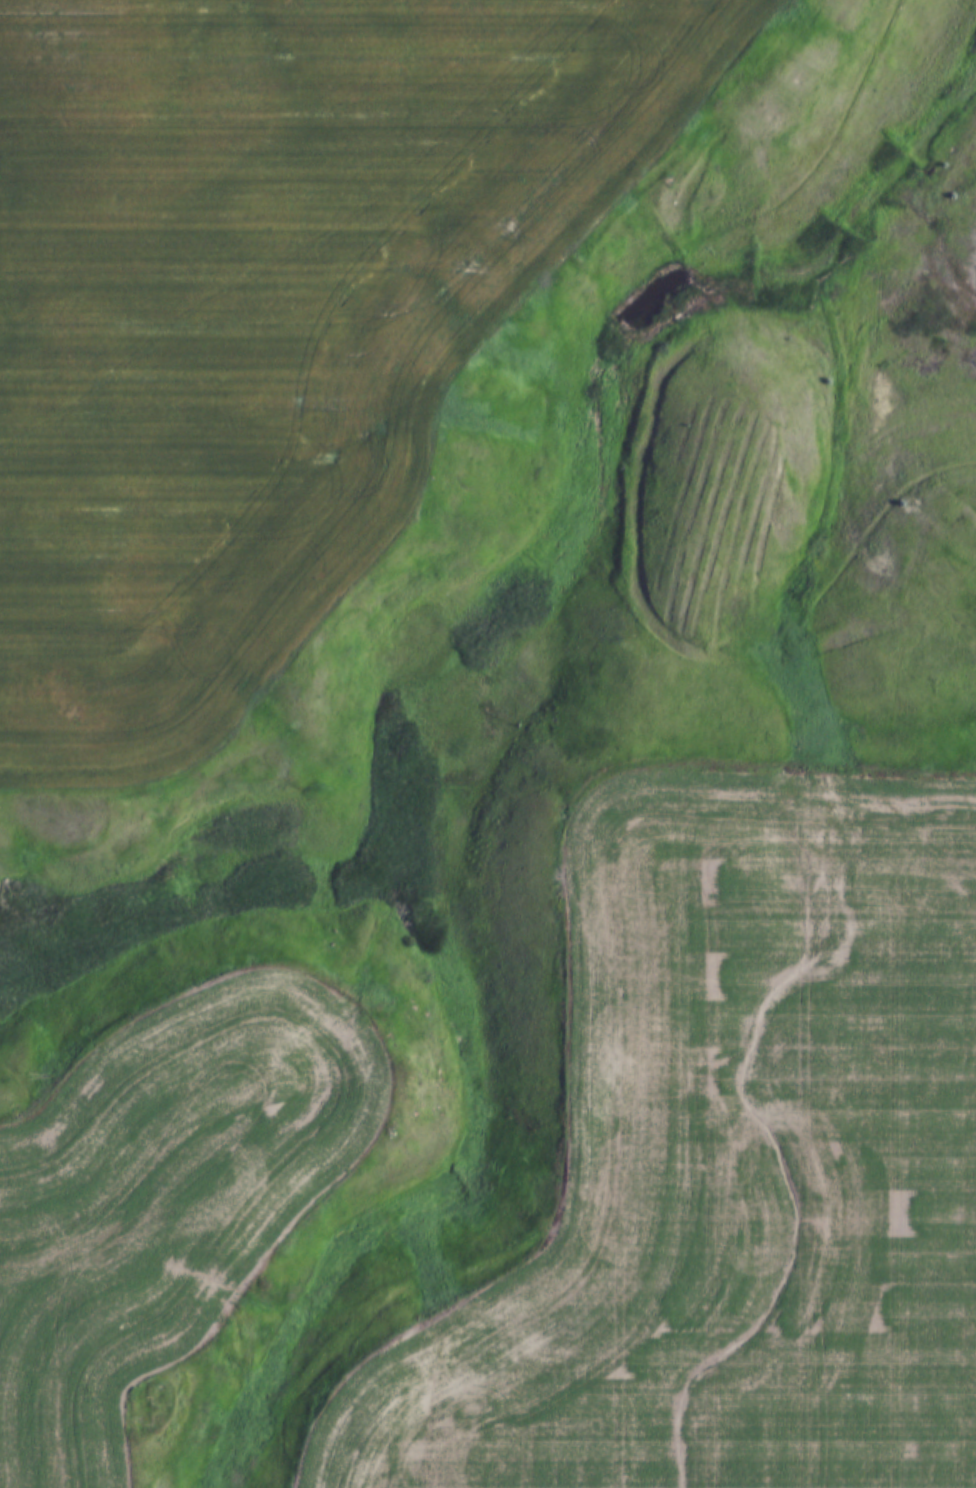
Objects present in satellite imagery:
quarry: (963, 185)

